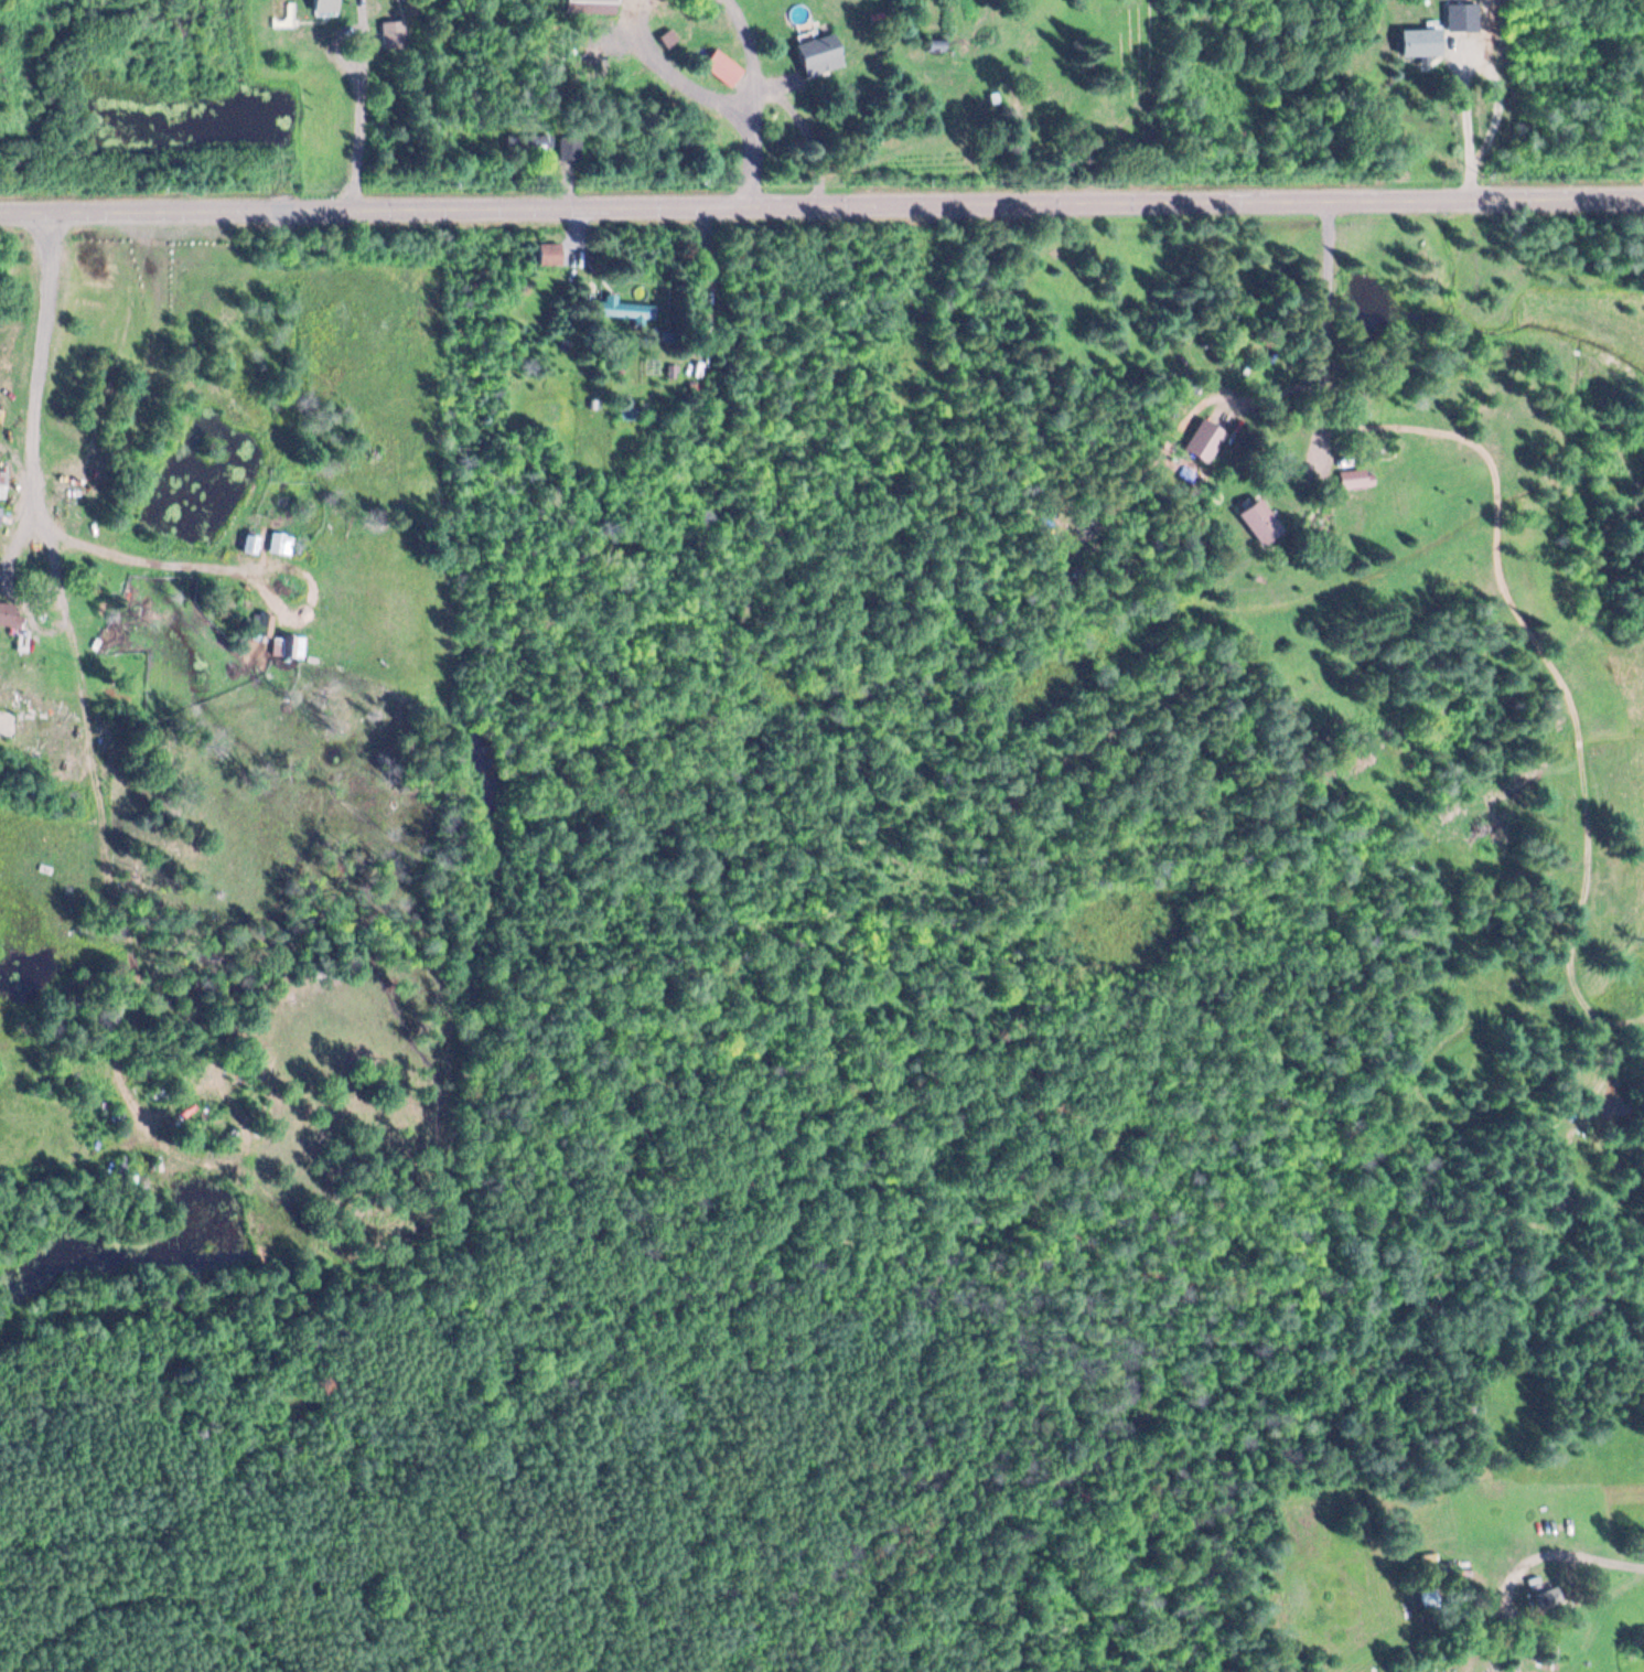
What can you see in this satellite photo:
building: (589, 0)
building: (323, 6)
building: (1457, 14)
building: (391, 33)
building: (1418, 41)
building: (815, 51)
building: (720, 67)
road: (1394, 95)
building: (526, 143)
building: (569, 147)
road: (821, 200)
building: (547, 253)
building: (623, 308)
building: (1202, 440)
building: (1353, 478)
building: (1, 482)
building: (0, 506)
building: (1257, 521)
building: (280, 543)
building: (7, 614)
building: (292, 645)
building: (6, 720)
road: (1599, 1560)
building: (1538, 1579)
building: (1546, 1598)

